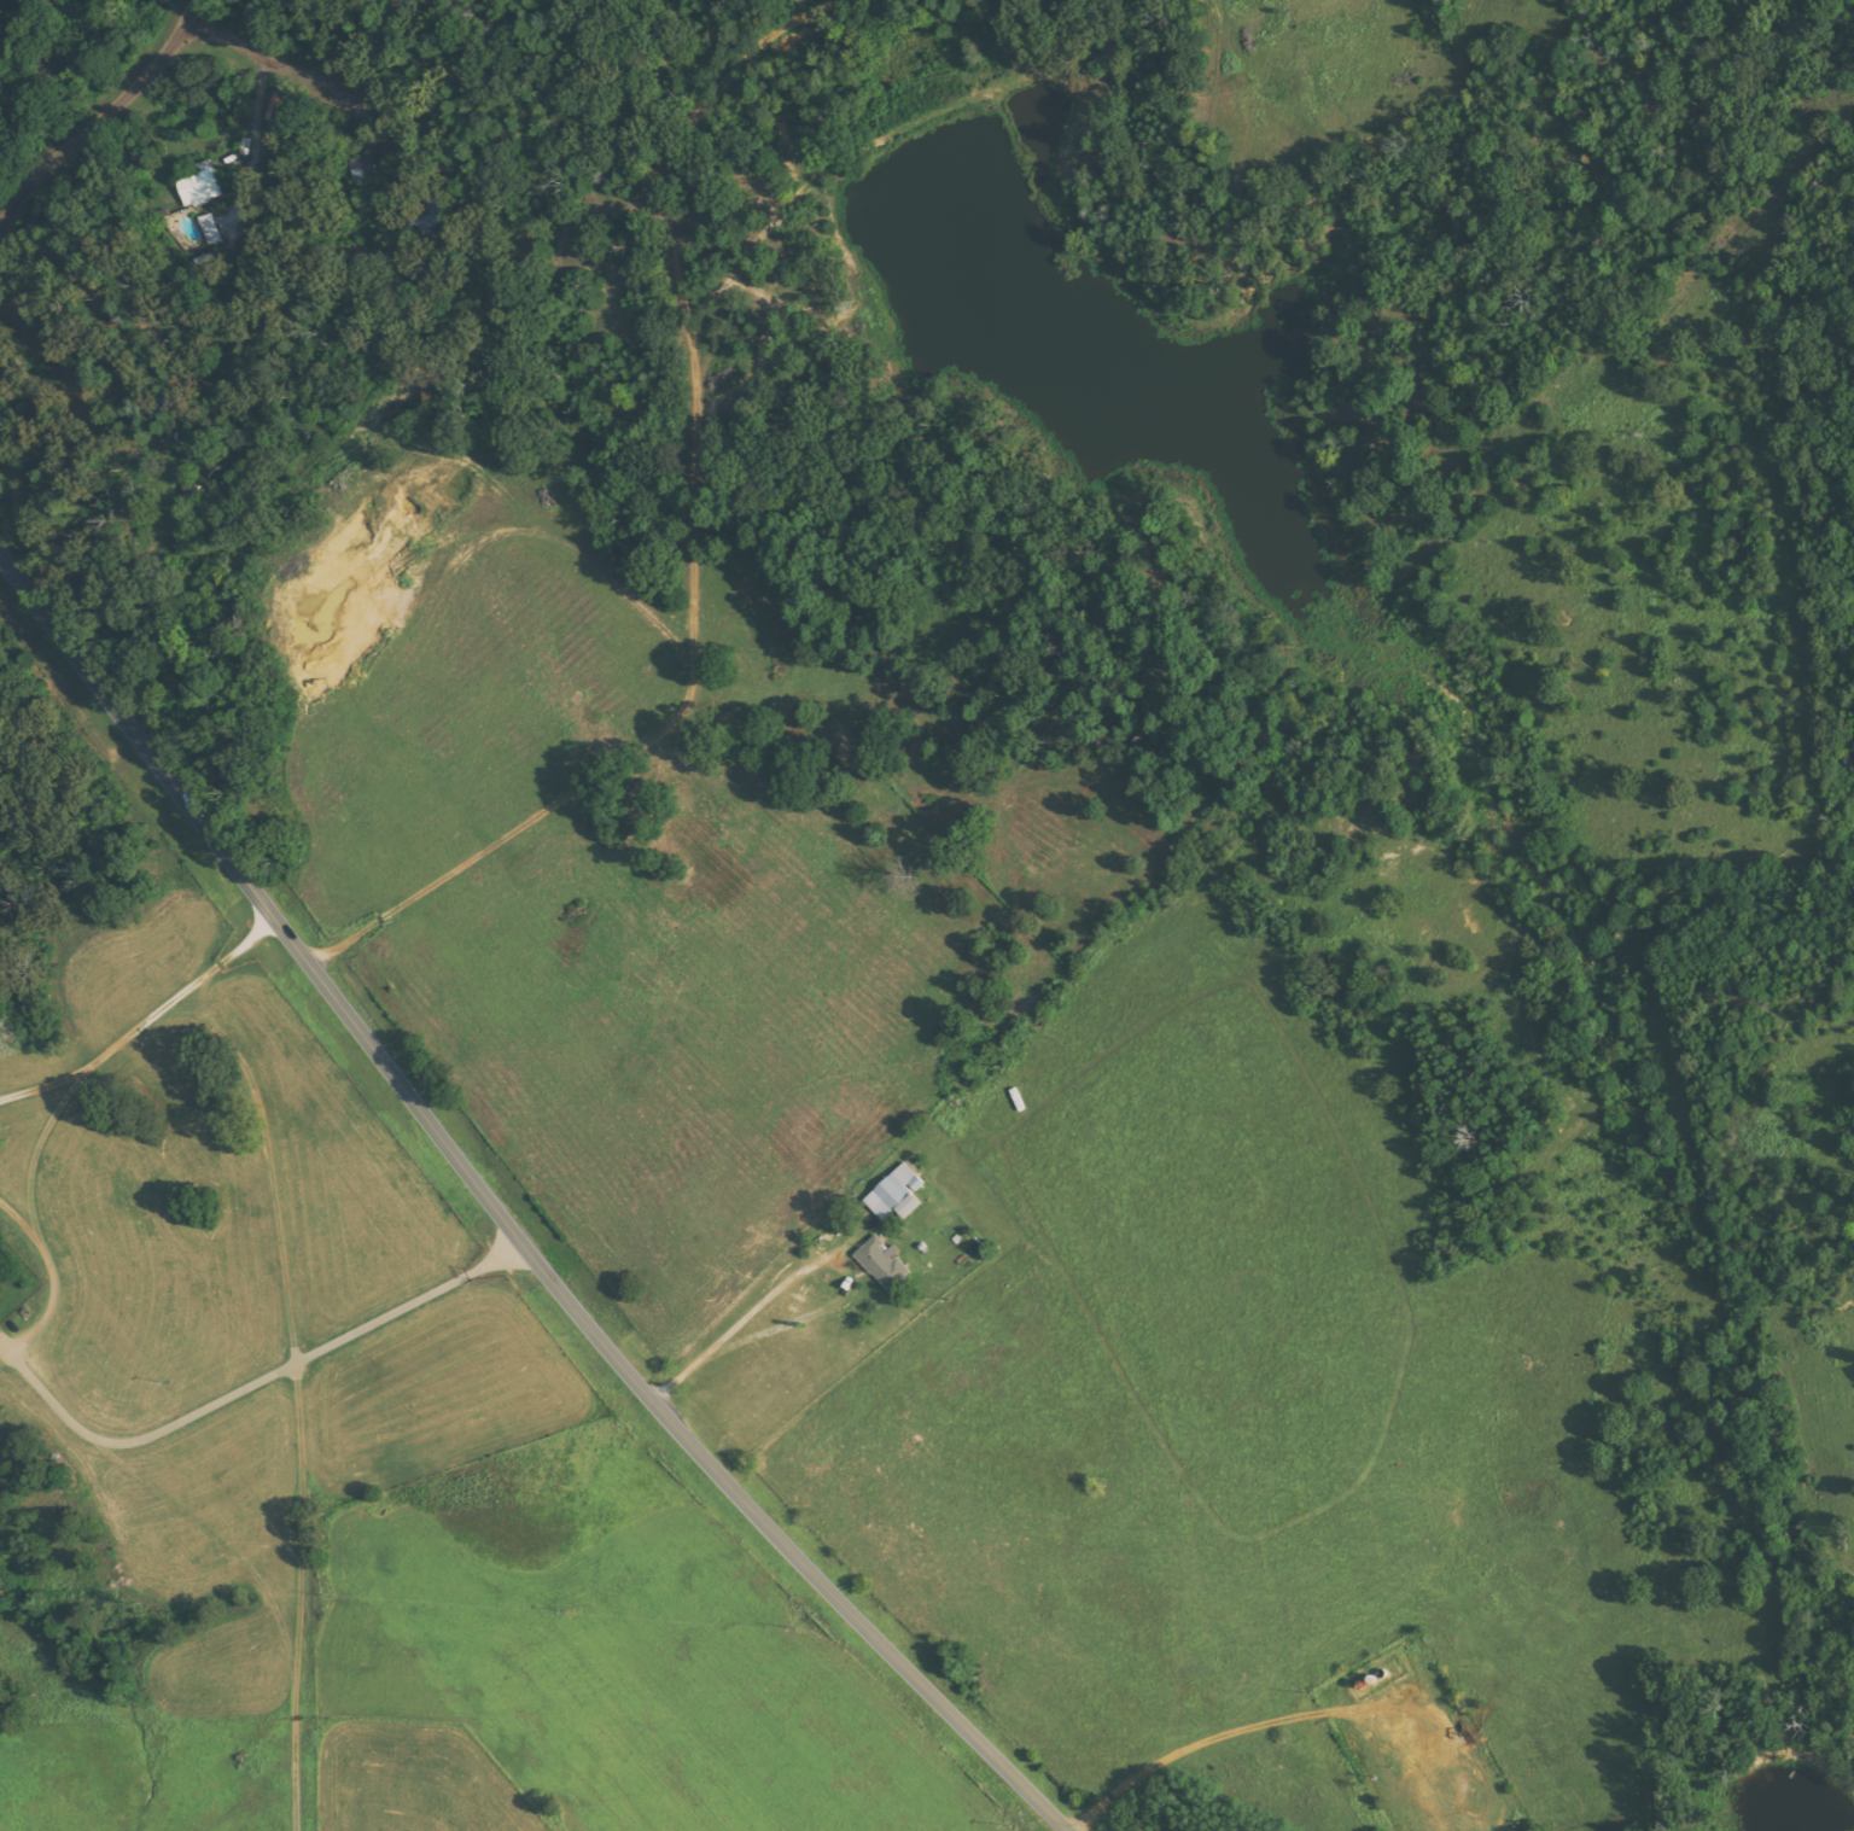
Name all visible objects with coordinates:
road: (276, 66)
road: (103, 118)
building: (203, 185)
building: (210, 229)
building: (898, 1194)
road: (502, 1217)
building: (886, 1264)
road: (251, 1387)
road: (1234, 1557)

